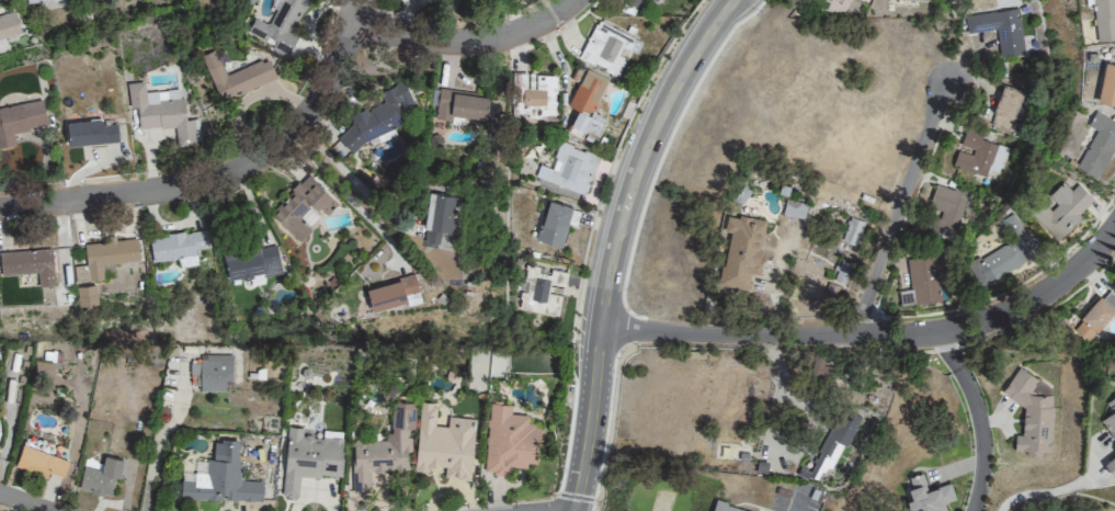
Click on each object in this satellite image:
building: (923, 0)
building: (36, 1)
building: (1104, 19)
building: (9, 24)
building: (278, 25)
building: (1000, 30)
road: (470, 44)
building: (607, 47)
building: (236, 76)
building: (1107, 82)
building: (538, 94)
road: (326, 95)
building: (585, 101)
building: (460, 105)
building: (1006, 107)
building: (162, 112)
building: (378, 116)
building: (20, 120)
building: (92, 132)
building: (1099, 145)
building: (980, 155)
building: (570, 168)
road: (129, 196)
road: (344, 196)
building: (301, 206)
building: (947, 207)
building: (794, 208)
building: (1060, 208)
road: (899, 209)
building: (439, 214)
building: (556, 223)
building: (852, 231)
road: (622, 241)
building: (178, 245)
building: (741, 249)
building: (1002, 252)
building: (109, 254)
building: (29, 262)
building: (252, 262)
building: (924, 281)
building: (392, 292)
building: (547, 292)
building: (87, 294)
building: (1093, 319)
road: (876, 334)
building: (212, 372)
building: (1032, 412)
road: (981, 418)
building: (1110, 418)
building: (509, 440)
building: (444, 443)
road: (157, 445)
building: (831, 447)
building: (384, 448)
building: (309, 457)
building: (41, 462)
building: (1111, 465)
building: (101, 476)
building: (220, 477)
road: (1048, 492)
building: (928, 495)
road: (21, 503)
building: (726, 507)
road: (795, 510)

